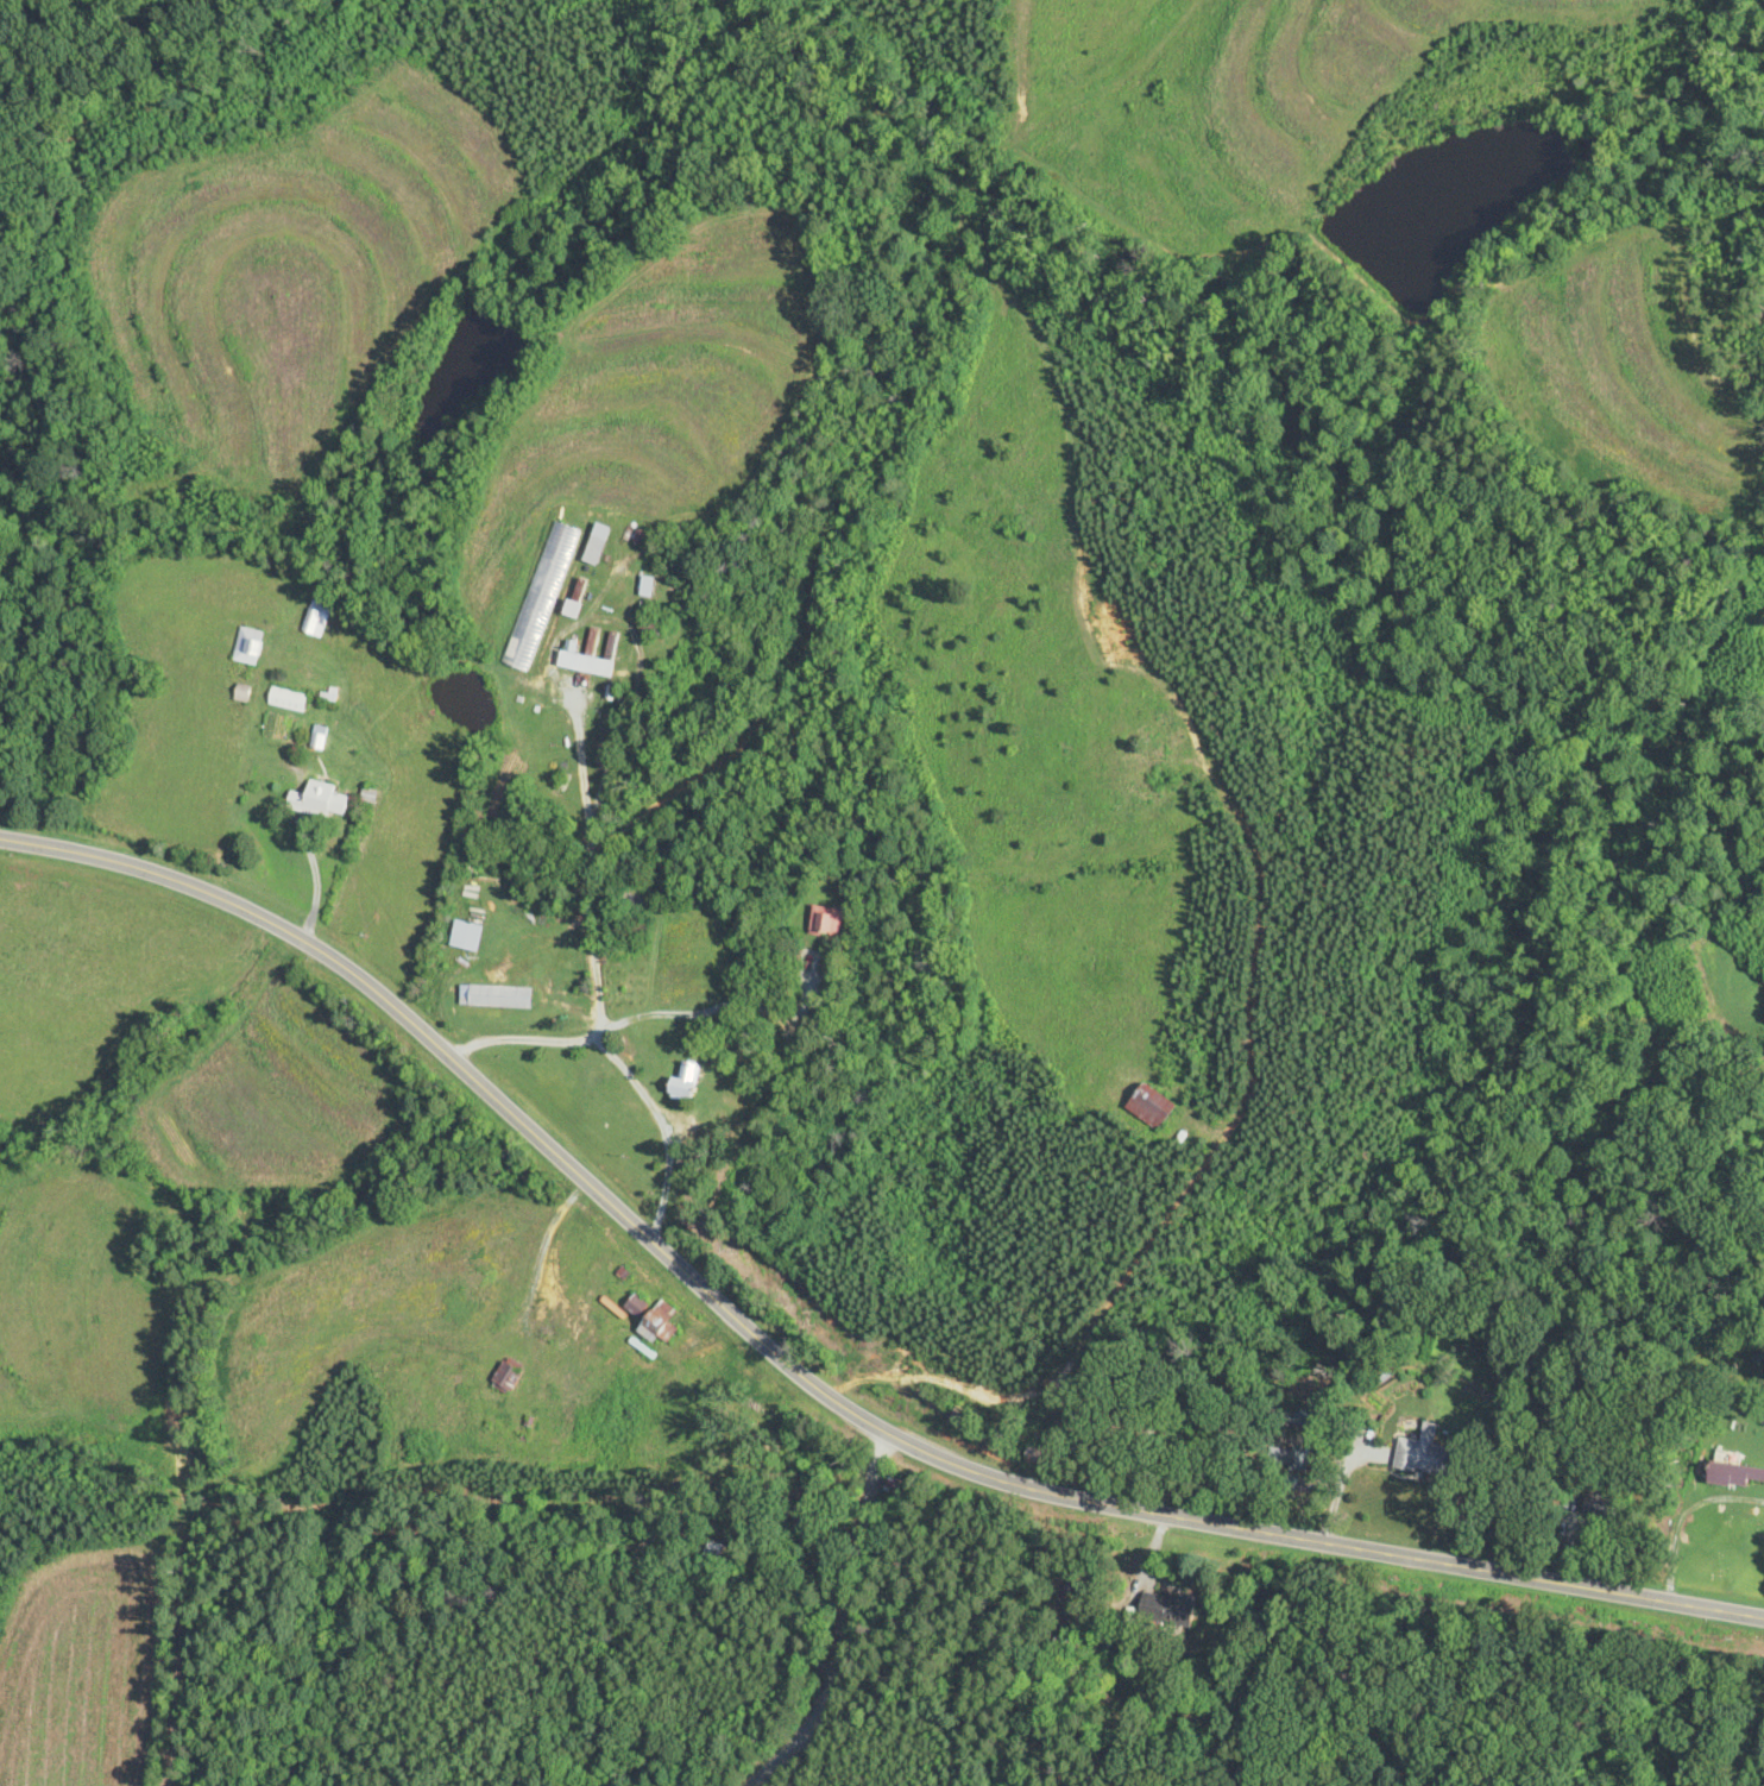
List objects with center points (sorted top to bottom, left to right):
building: (593, 551)
building: (647, 587)
building: (577, 599)
building: (316, 620)
building: (248, 647)
building: (588, 659)
building: (288, 699)
building: (320, 801)
road: (604, 908)
building: (826, 922)
building: (561, 986)
building: (629, 992)
building: (490, 995)
building: (683, 1083)
building: (1146, 1098)
building: (656, 1316)
building: (506, 1376)
road: (809, 1381)
building: (1424, 1454)
building: (1287, 1458)
building: (1732, 1472)
building: (893, 1484)
building: (1600, 1507)
building: (714, 1549)
building: (1170, 1608)
road: (846, 1628)
road: (1754, 1759)

